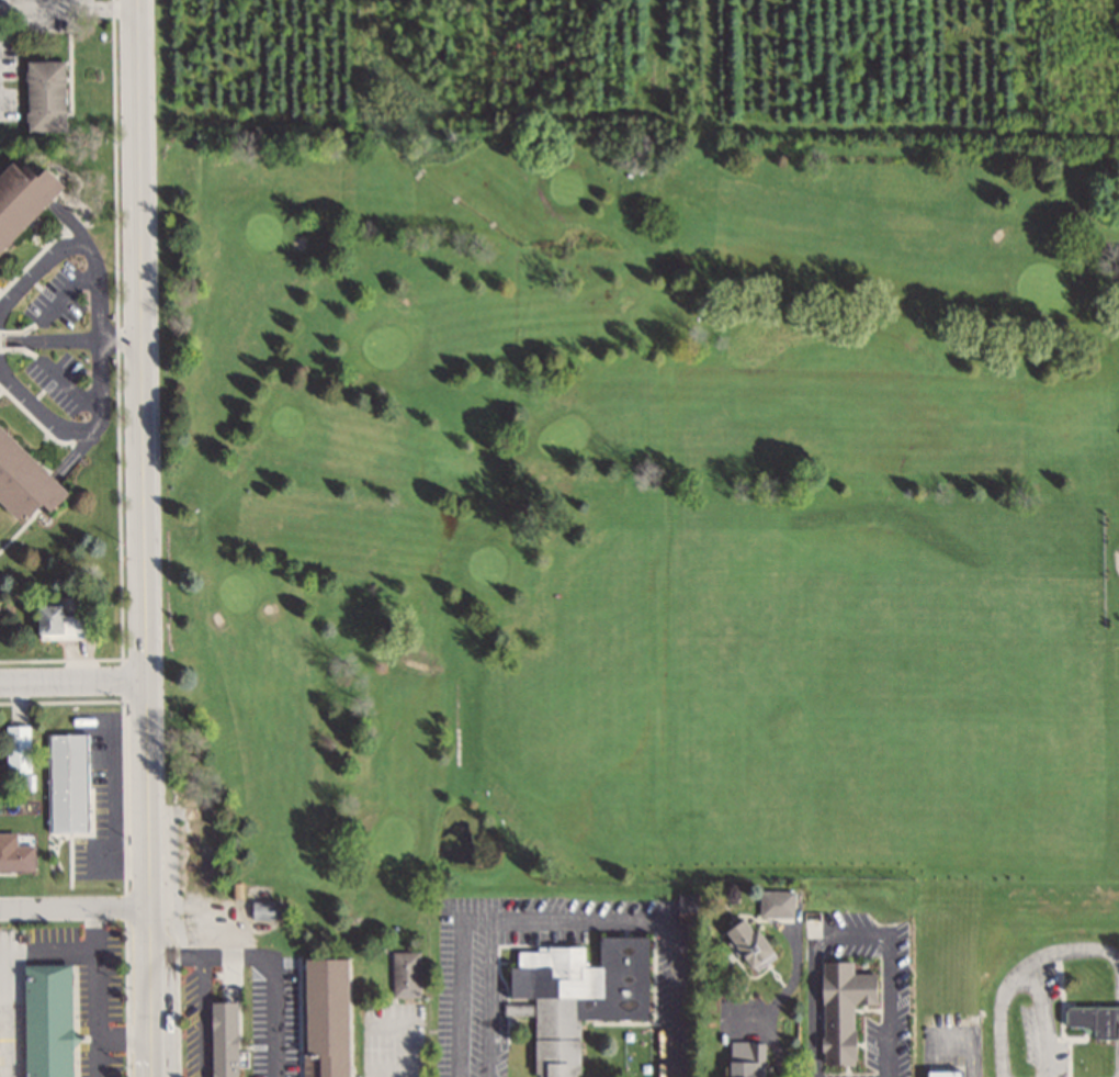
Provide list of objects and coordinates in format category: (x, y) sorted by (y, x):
road: (68, 7)
building: (44, 96)
building: (23, 182)
road: (98, 337)
road: (97, 338)
building: (23, 472)
park: (636, 512)
road: (145, 538)
building: (56, 624)
road: (74, 683)
building: (18, 748)
building: (68, 782)
building: (15, 857)
building: (776, 905)
road: (75, 907)
building: (261, 909)
road: (568, 919)
road: (855, 935)
building: (747, 944)
road: (271, 956)
road: (1026, 968)
building: (404, 974)
building: (578, 995)
park: (392, 1009)
building: (840, 1009)
road: (202, 1017)
building: (325, 1017)
building: (46, 1020)
building: (1092, 1020)
building: (222, 1039)
building: (744, 1059)
building: (941, 1074)

